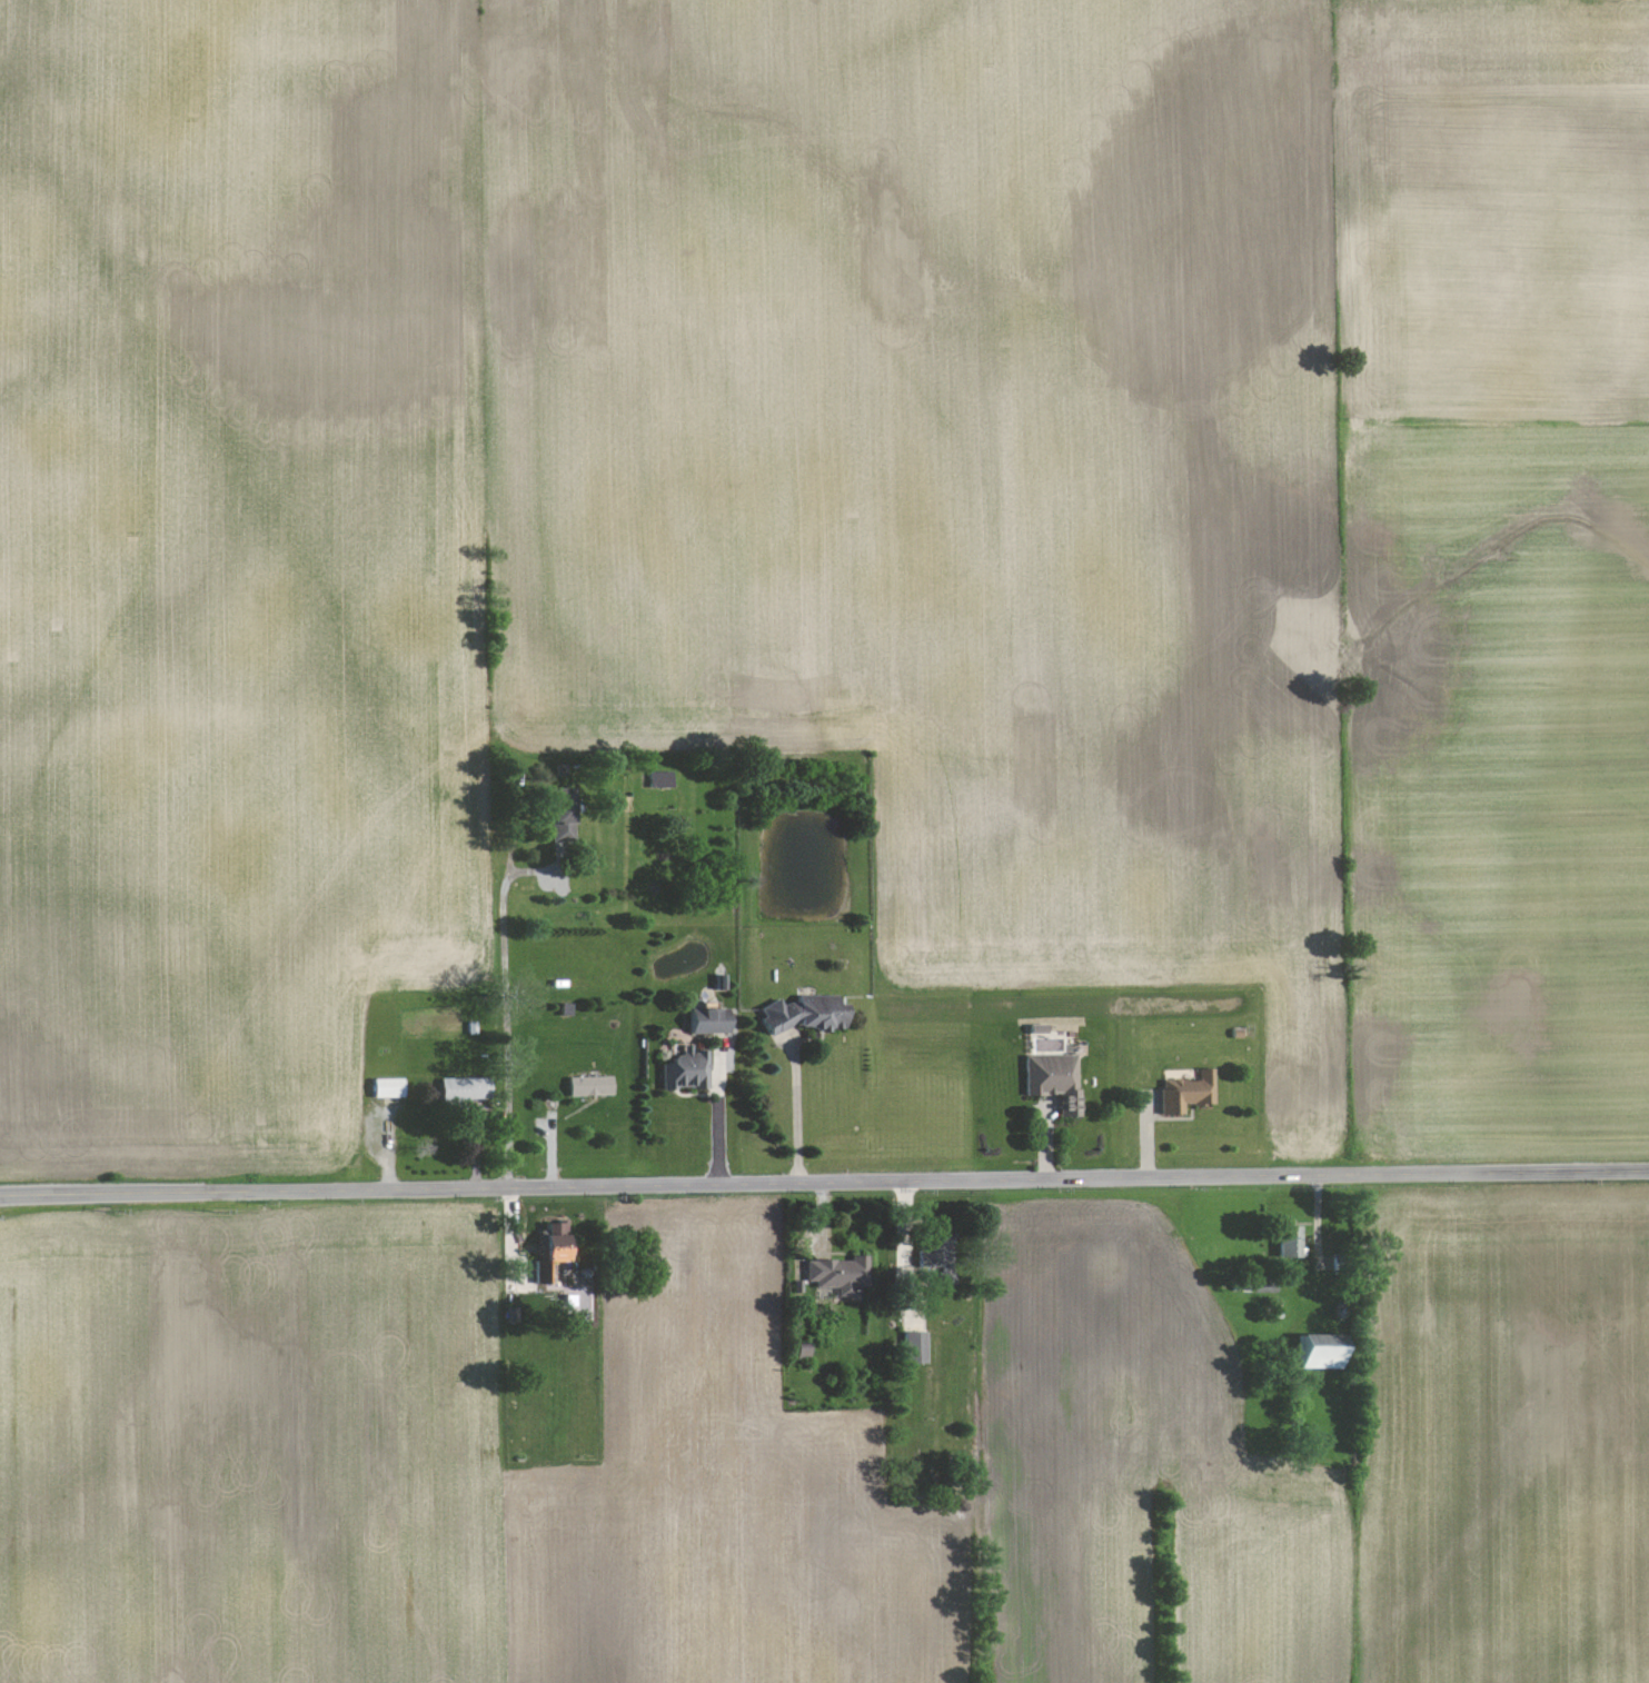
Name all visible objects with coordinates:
building: (663, 779)
building: (567, 814)
building: (809, 1014)
road: (506, 1015)
building: (713, 1020)
building: (689, 1070)
building: (1055, 1080)
building: (593, 1086)
building: (389, 1088)
building: (468, 1088)
building: (1189, 1092)
road: (796, 1107)
road: (718, 1111)
road: (824, 1183)
building: (1282, 1239)
building: (937, 1255)
building: (842, 1274)
building: (920, 1347)
building: (1308, 1354)

